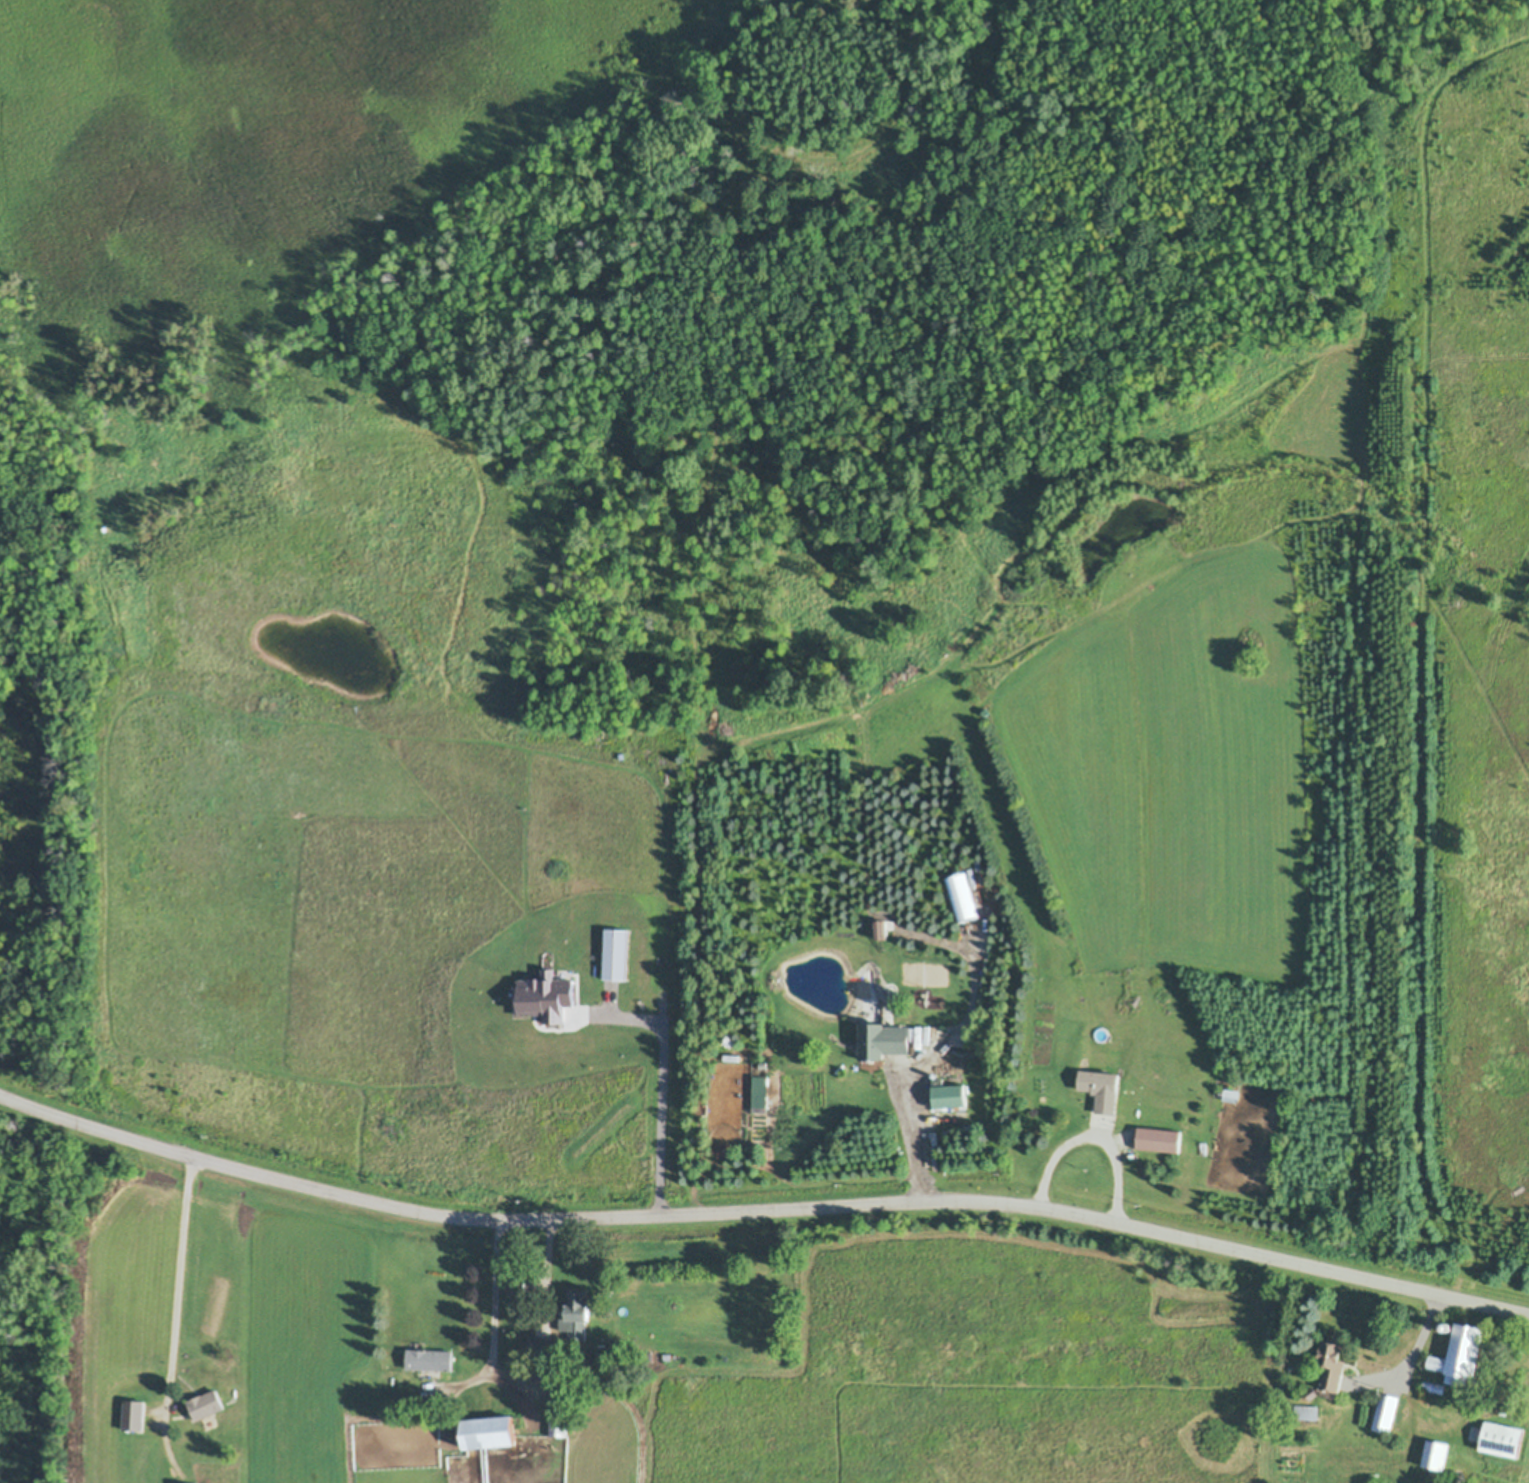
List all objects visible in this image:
building: (583, 904)
building: (880, 934)
building: (879, 984)
building: (880, 1004)
building: (545, 1016)
building: (870, 1021)
building: (1101, 1033)
building: (884, 1041)
building: (873, 1063)
building: (935, 1076)
building: (1103, 1091)
road: (655, 1092)
building: (949, 1096)
building: (1231, 1096)
road: (906, 1132)
road: (1094, 1134)
building: (1158, 1140)
road: (761, 1211)
road: (543, 1274)
building: (517, 1286)
road: (495, 1295)
road: (174, 1314)
building: (577, 1317)
building: (1447, 1326)
road: (1406, 1347)
building: (543, 1348)
building: (1462, 1354)
building: (580, 1355)
building: (430, 1359)
building: (1333, 1363)
building: (1292, 1368)
building: (429, 1373)
building: (1434, 1387)
building: (1305, 1396)
building: (206, 1404)
building: (560, 1411)
building: (1306, 1412)
building: (1386, 1413)
building: (135, 1416)
building: (209, 1421)
building: (492, 1433)
building: (1503, 1439)
building: (1437, 1456)

